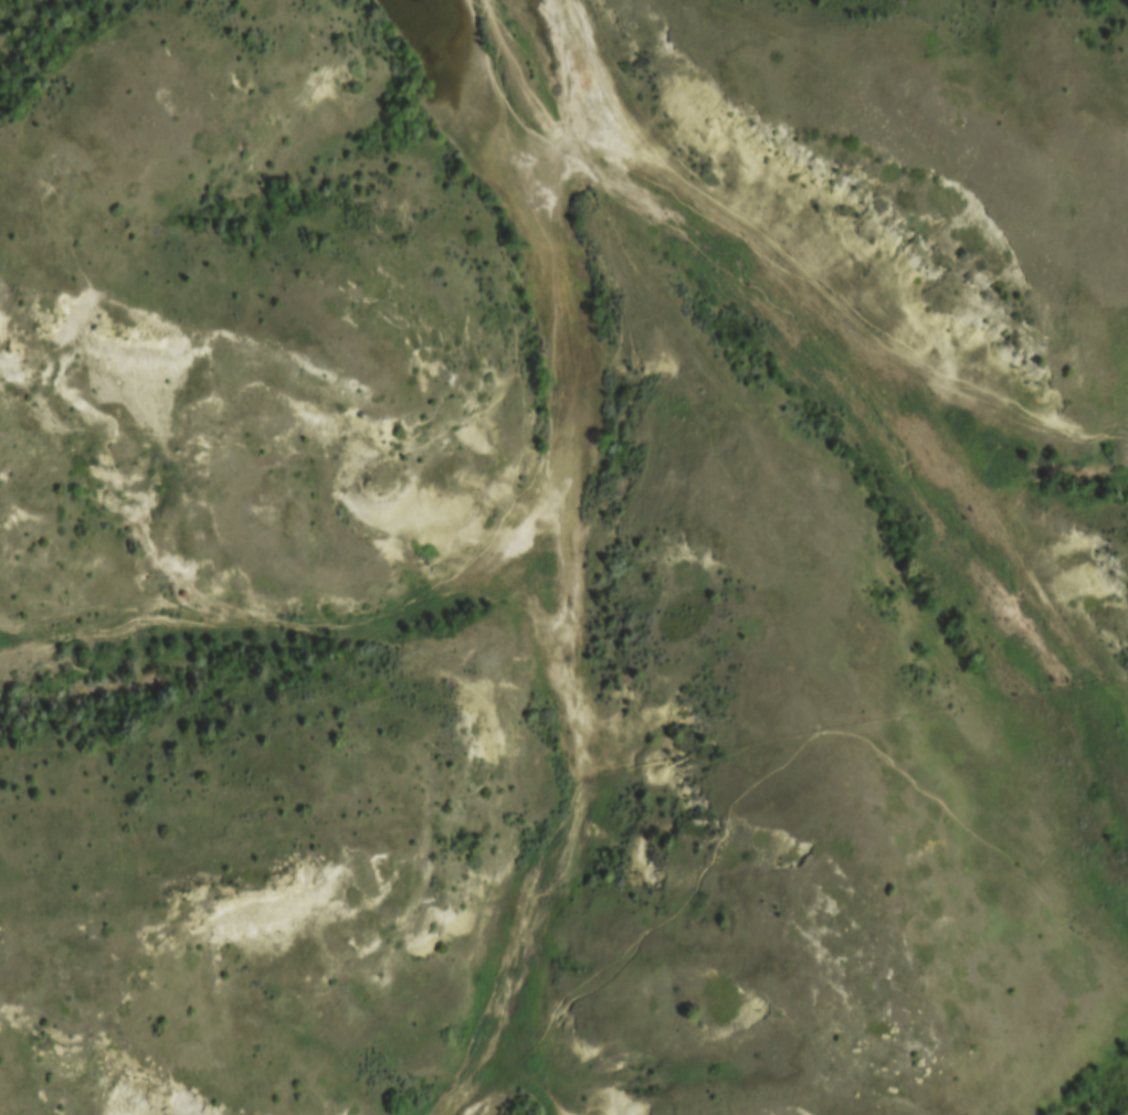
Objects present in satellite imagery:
road: (882, 328)

